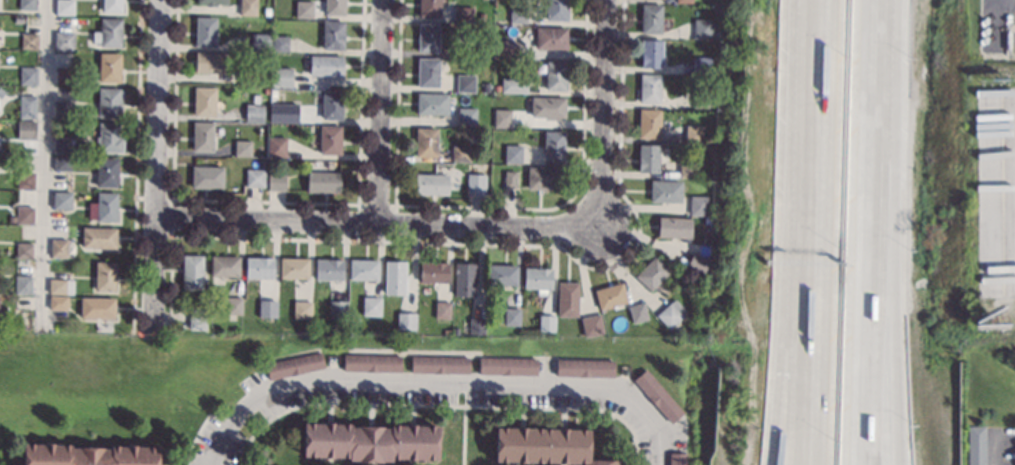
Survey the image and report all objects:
building: (683, 1)
building: (213, 2)
building: (27, 5)
building: (111, 6)
building: (64, 7)
building: (247, 7)
building: (334, 7)
building: (430, 8)
building: (303, 9)
building: (556, 10)
building: (517, 14)
building: (463, 15)
building: (651, 18)
building: (62, 20)
building: (702, 28)
building: (205, 30)
building: (109, 32)
building: (333, 34)
building: (427, 37)
building: (550, 37)
building: (29, 40)
building: (64, 40)
building: (260, 42)
building: (280, 43)
building: (507, 48)
building: (454, 51)
road: (821, 52)
building: (650, 53)
building: (94, 59)
building: (211, 62)
building: (700, 64)
building: (326, 65)
building: (110, 66)
building: (428, 73)
building: (28, 75)
building: (62, 75)
building: (555, 76)
building: (247, 77)
building: (286, 78)
building: (465, 83)
building: (514, 85)
building: (487, 87)
building: (649, 88)
building: (1, 92)
building: (700, 99)
building: (204, 101)
building: (106, 103)
building: (431, 103)
building: (332, 104)
building: (27, 106)
building: (547, 107)
building: (62, 110)
building: (254, 112)
building: (302, 114)
road: (382, 114)
road: (603, 114)
building: (272, 117)
building: (466, 117)
building: (502, 117)
building: (648, 123)
building: (26, 129)
building: (693, 134)
building: (202, 136)
building: (110, 137)
building: (330, 140)
building: (426, 142)
building: (61, 144)
building: (277, 146)
building: (553, 146)
building: (242, 147)
building: (460, 153)
building: (512, 153)
building: (648, 158)
road: (156, 161)
building: (62, 162)
road: (44, 163)
building: (687, 168)
building: (107, 172)
building: (207, 177)
building: (509, 177)
building: (254, 178)
building: (541, 178)
building: (26, 180)
building: (277, 181)
building: (322, 181)
building: (430, 183)
building: (475, 185)
building: (665, 191)
building: (62, 200)
building: (697, 205)
building: (104, 207)
building: (25, 214)
road: (377, 227)
building: (674, 227)
road: (870, 232)
road: (891, 232)
building: (99, 237)
building: (706, 240)
building: (58, 247)
building: (24, 249)
building: (696, 264)
building: (224, 266)
building: (259, 267)
building: (294, 267)
building: (328, 269)
building: (364, 269)
building: (192, 272)
building: (433, 272)
building: (651, 272)
building: (502, 274)
building: (105, 275)
building: (394, 277)
building: (464, 279)
building: (537, 279)
building: (23, 284)
road: (799, 284)
road: (815, 284)
building: (60, 286)
building: (609, 296)
building: (566, 299)
building: (57, 302)
building: (234, 305)
building: (97, 307)
building: (373, 307)
building: (267, 308)
building: (301, 309)
building: (337, 309)
building: (442, 309)
building: (636, 312)
building: (670, 313)
building: (511, 316)
building: (196, 318)
building: (405, 320)
building: (545, 323)
building: (475, 325)
building: (591, 325)
building: (371, 363)
building: (440, 364)
building: (293, 365)
building: (507, 366)
building: (585, 368)
road: (427, 382)
building: (657, 397)
building: (369, 441)
building: (545, 445)
building: (975, 445)
road: (992, 448)
road: (661, 449)
building: (88, 455)
building: (675, 459)

